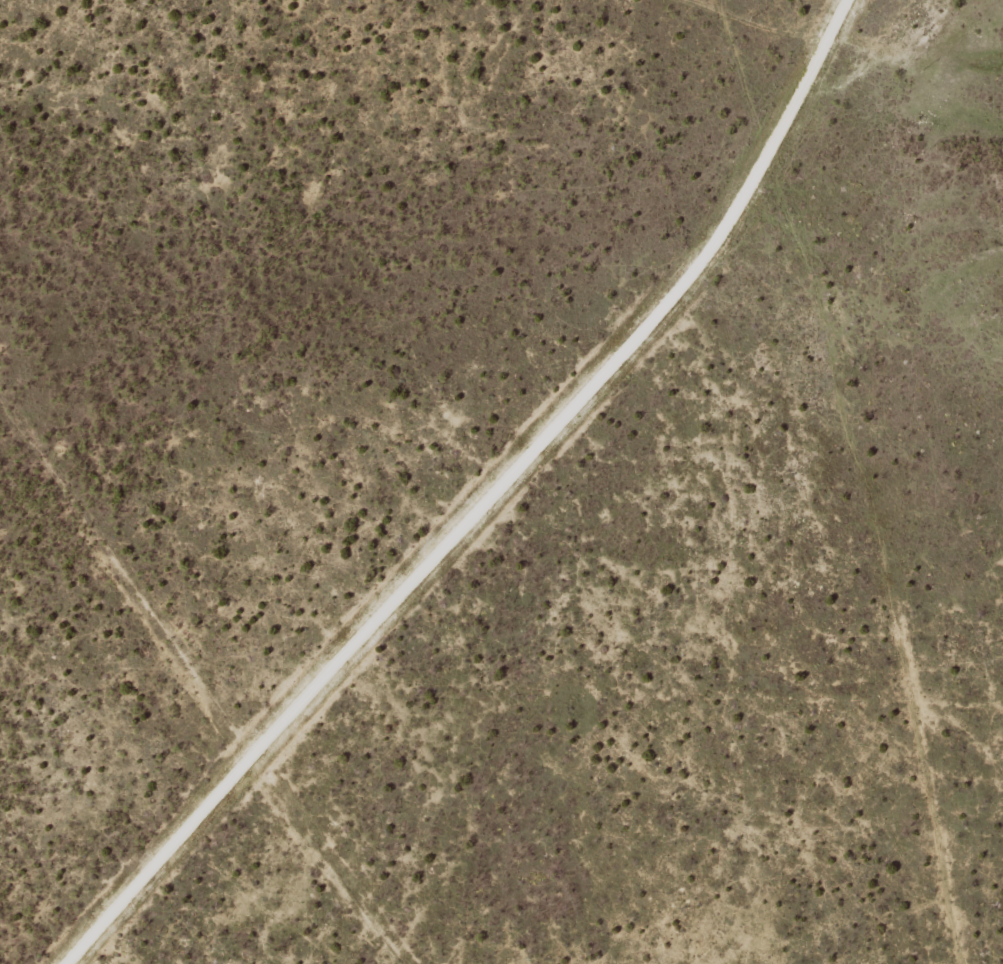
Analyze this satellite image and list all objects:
road: (817, 485)

